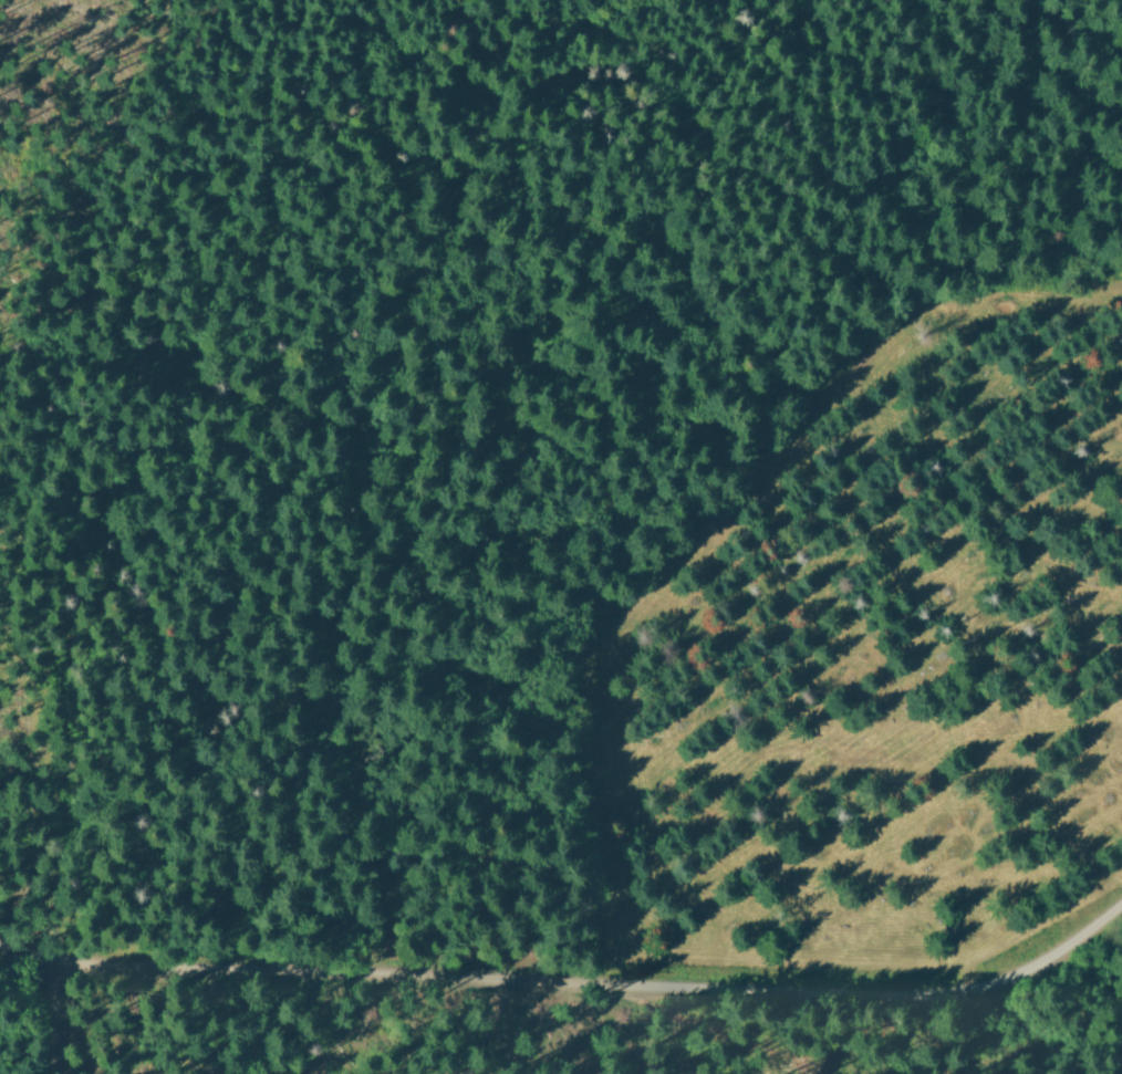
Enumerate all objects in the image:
road: (572, 979)
road: (59, 1016)

